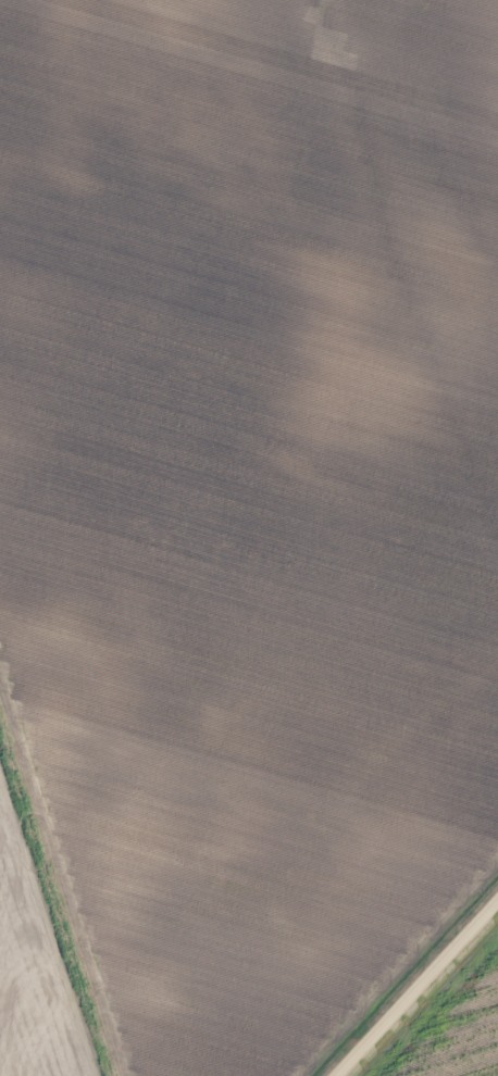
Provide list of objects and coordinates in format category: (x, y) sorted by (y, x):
road: (420, 992)

